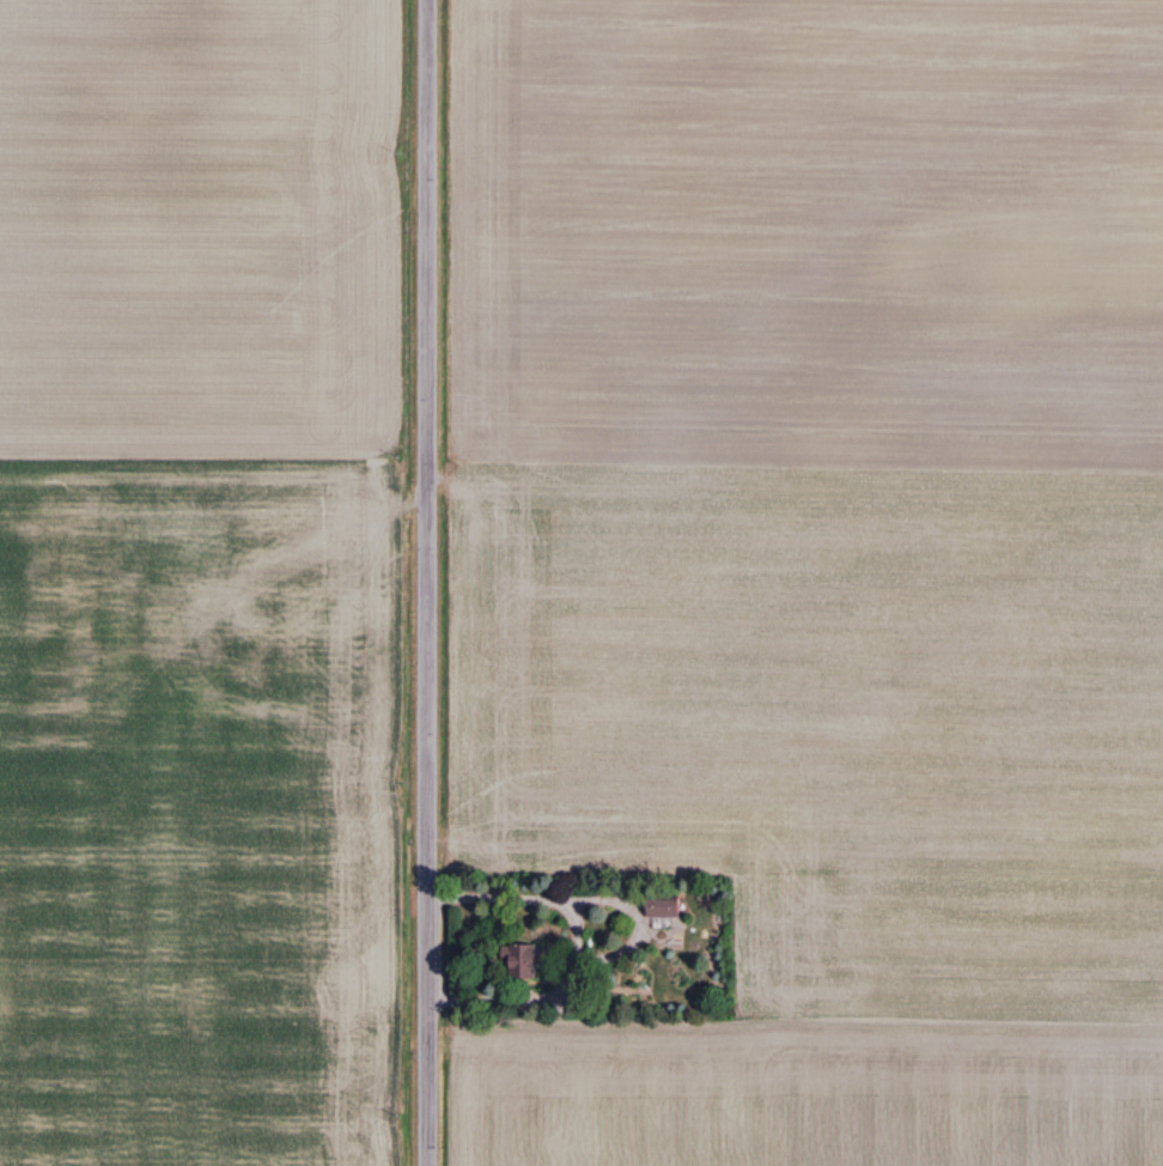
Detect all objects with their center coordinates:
road: (425, 582)
building: (664, 909)
building: (520, 962)

